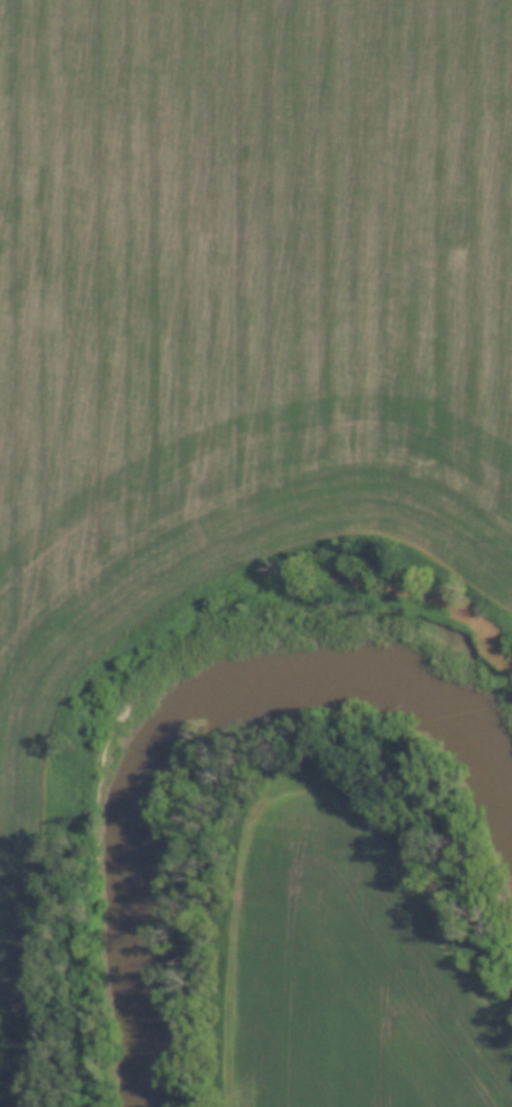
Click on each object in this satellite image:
river: (199, 723)

